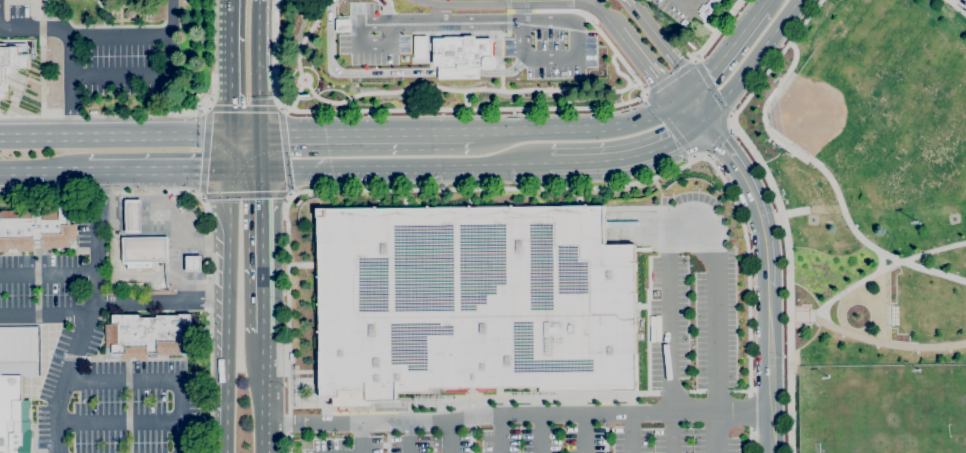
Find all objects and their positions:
road: (481, 0)
road: (482, 1)
road: (764, 4)
road: (687, 5)
road: (955, 7)
road: (385, 9)
road: (439, 11)
road: (518, 11)
road: (521, 11)
parking lot: (685, 12)
road: (605, 14)
road: (171, 16)
road: (506, 17)
road: (788, 18)
road: (401, 22)
road: (596, 28)
road: (35, 29)
road: (716, 31)
road: (120, 35)
road: (659, 42)
building: (419, 46)
parking lot: (547, 46)
road: (496, 47)
building: (462, 52)
road: (725, 53)
road: (574, 59)
building: (11, 61)
road: (260, 66)
road: (644, 67)
road: (229, 68)
road: (392, 72)
building: (456, 72)
road: (500, 72)
road: (141, 75)
road: (669, 78)
flagpole: (17, 79)
road: (739, 80)
road: (500, 83)
road: (632, 84)
road: (70, 87)
road: (584, 90)
road: (294, 93)
road: (643, 94)
road: (353, 96)
road: (465, 100)
road: (203, 106)
road: (280, 106)
road: (411, 109)
road: (694, 109)
park: (820, 112)
road: (155, 116)
road: (593, 129)
road: (482, 132)
road: (365, 133)
traffic signals: (261, 134)
road: (245, 135)
road: (114, 137)
traffic signals: (229, 137)
road: (261, 150)
road: (228, 152)
road: (629, 160)
traffic signals: (227, 167)
road: (244, 167)
traffic signals: (261, 167)
road: (156, 168)
road: (370, 168)
road: (514, 169)
road: (43, 170)
road: (825, 175)
road: (277, 194)
road: (288, 195)
road: (198, 197)
road: (158, 202)
road: (776, 206)
road: (123, 207)
building: (133, 216)
park: (868, 222)
road: (207, 224)
building: (38, 228)
road: (688, 229)
road: (261, 236)
road: (204, 241)
gas station: (156, 243)
building: (145, 249)
gas station: (145, 249)
road: (181, 254)
building: (193, 263)
road: (48, 274)
road: (873, 275)
road: (122, 276)
road: (767, 280)
road: (169, 281)
road: (200, 290)
road: (160, 302)
building: (474, 302)
road: (229, 309)
road: (284, 309)
road: (44, 312)
road: (87, 312)
road: (263, 325)
building: (149, 336)
parking lot: (692, 344)
road: (888, 345)
road: (155, 382)
building: (16, 385)
road: (264, 386)
road: (517, 413)
park: (886, 415)
road: (118, 422)
road: (586, 432)
road: (631, 432)
road: (500, 433)
road: (541, 433)
road: (449, 437)
road: (408, 438)
road: (265, 439)
road: (362, 439)

